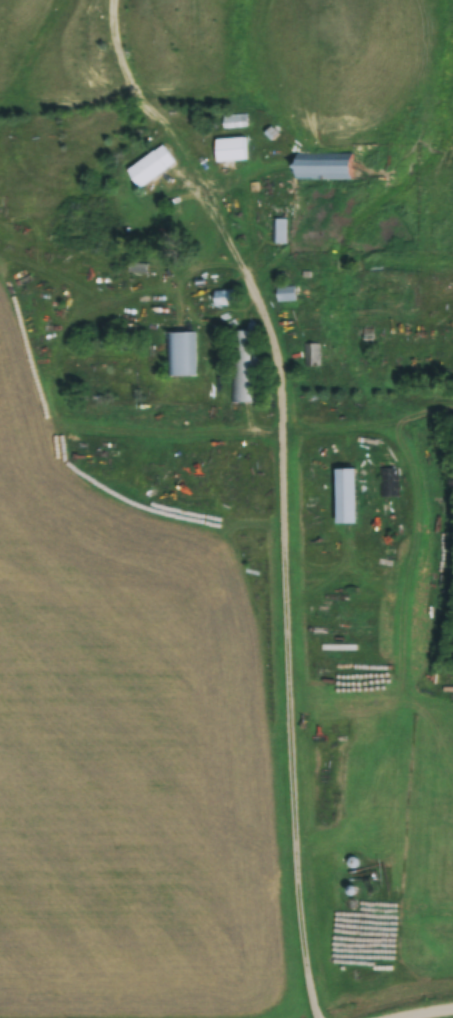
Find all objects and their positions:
building: (236, 122)
building: (230, 150)
building: (321, 167)
building: (151, 168)
building: (279, 232)
building: (285, 295)
building: (224, 299)
building: (182, 356)
building: (313, 356)
building: (245, 367)
building: (344, 496)
road: (288, 581)
road: (418, 1009)

